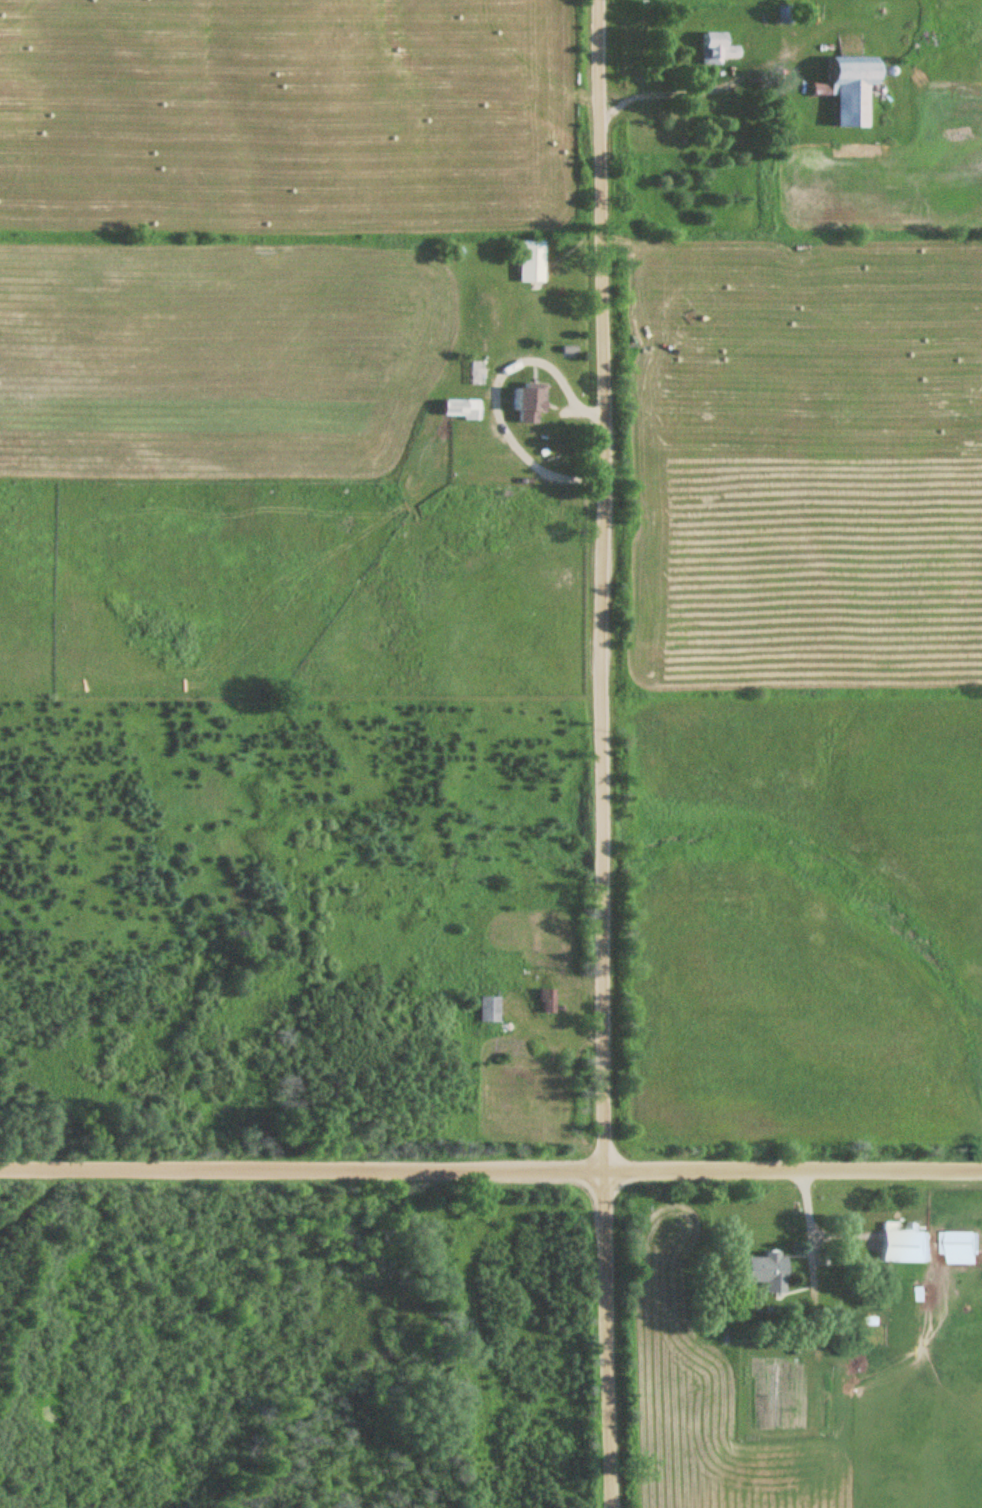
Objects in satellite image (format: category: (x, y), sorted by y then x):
building: (716, 50)
building: (531, 263)
building: (527, 405)
building: (460, 408)
road: (602, 754)
building: (547, 1000)
building: (490, 1011)
road: (490, 1171)
building: (905, 1243)
building: (961, 1246)
building: (767, 1270)

